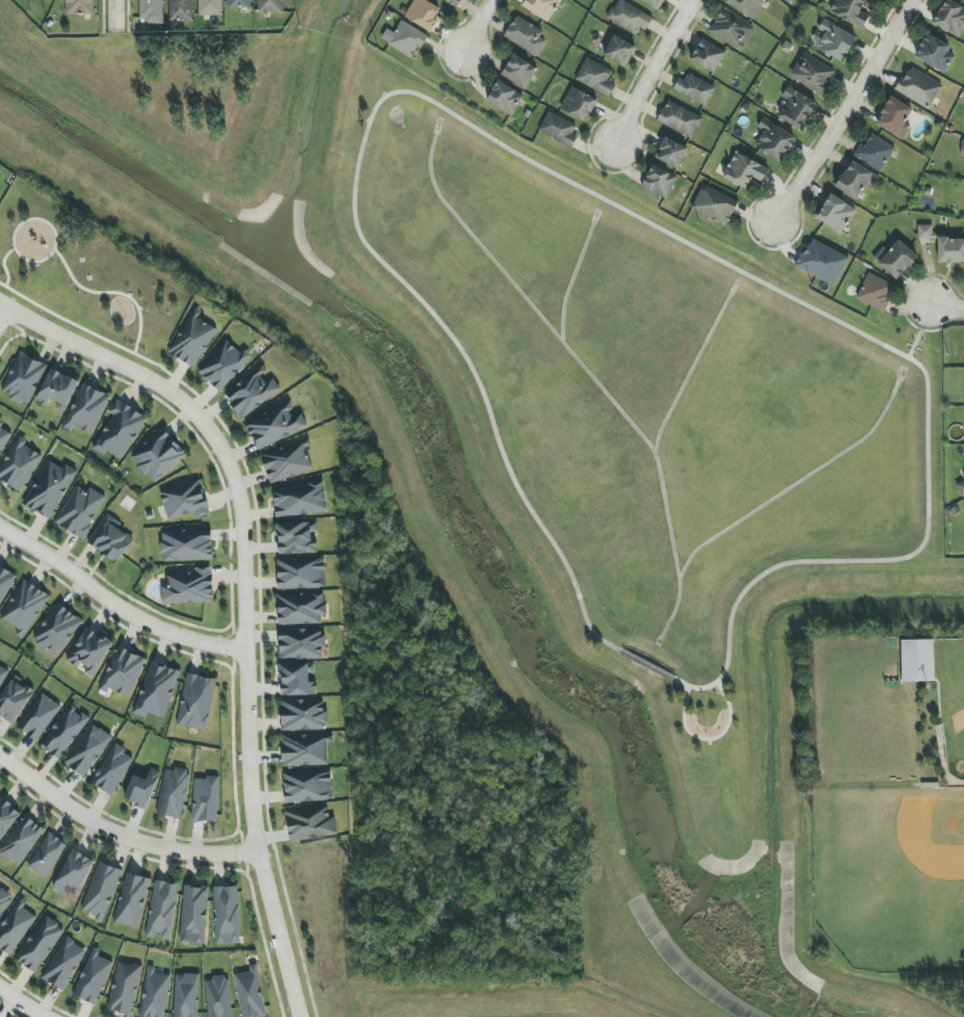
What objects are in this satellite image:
building: (790, 0)
building: (455, 2)
building: (654, 3)
building: (238, 4)
building: (270, 6)
building: (747, 6)
building: (79, 7)
building: (210, 7)
building: (542, 7)
building: (181, 10)
building: (152, 11)
building: (850, 11)
building: (423, 14)
road: (115, 15)
building: (629, 16)
building: (950, 18)
road: (480, 26)
building: (732, 29)
building: (526, 36)
building: (404, 39)
building: (833, 40)
building: (619, 51)
building: (934, 53)
building: (708, 55)
road: (652, 68)
building: (519, 71)
building: (812, 73)
building: (595, 77)
building: (919, 87)
building: (694, 89)
building: (504, 97)
building: (578, 104)
building: (796, 108)
road: (844, 111)
building: (895, 118)
road: (370, 119)
building: (679, 119)
building: (558, 129)
building: (773, 139)
building: (962, 147)
building: (671, 152)
building: (875, 152)
building: (744, 170)
building: (856, 179)
building: (659, 181)
building: (715, 205)
building: (836, 213)
building: (925, 232)
building: (951, 250)
building: (895, 259)
building: (822, 262)
park: (85, 278)
building: (875, 292)
road: (1, 305)
road: (946, 308)
road: (919, 331)
building: (193, 341)
building: (223, 365)
building: (24, 381)
building: (57, 389)
building: (252, 392)
building: (87, 409)
building: (274, 425)
building: (119, 431)
building: (3, 437)
building: (158, 456)
building: (287, 463)
building: (18, 465)
building: (49, 488)
building: (961, 488)
building: (184, 500)
building: (300, 500)
building: (80, 511)
building: (296, 538)
building: (110, 539)
building: (187, 546)
road: (856, 561)
building: (301, 573)
building: (5, 582)
building: (189, 587)
road: (245, 598)
road: (114, 606)
building: (24, 607)
building: (301, 608)
building: (57, 630)
building: (302, 644)
building: (89, 651)
building: (917, 660)
road: (646, 665)
building: (123, 672)
building: (2, 674)
building: (297, 680)
building: (156, 691)
building: (14, 700)
building: (197, 702)
building: (303, 715)
building: (39, 717)
building: (65, 732)
road: (707, 739)
building: (87, 750)
building: (306, 752)
building: (113, 770)
building: (142, 788)
building: (308, 788)
building: (173, 793)
building: (205, 799)
building: (7, 816)
building: (311, 823)
road: (119, 834)
building: (21, 840)
building: (46, 855)
building: (74, 872)
building: (101, 891)
building: (4, 901)
building: (131, 901)
building: (162, 910)
building: (194, 914)
building: (226, 915)
building: (15, 927)
building: (40, 944)
building: (64, 964)
building: (93, 978)
building: (124, 988)
building: (250, 993)
building: (155, 995)
building: (186, 995)
building: (219, 997)
road: (25, 1002)

